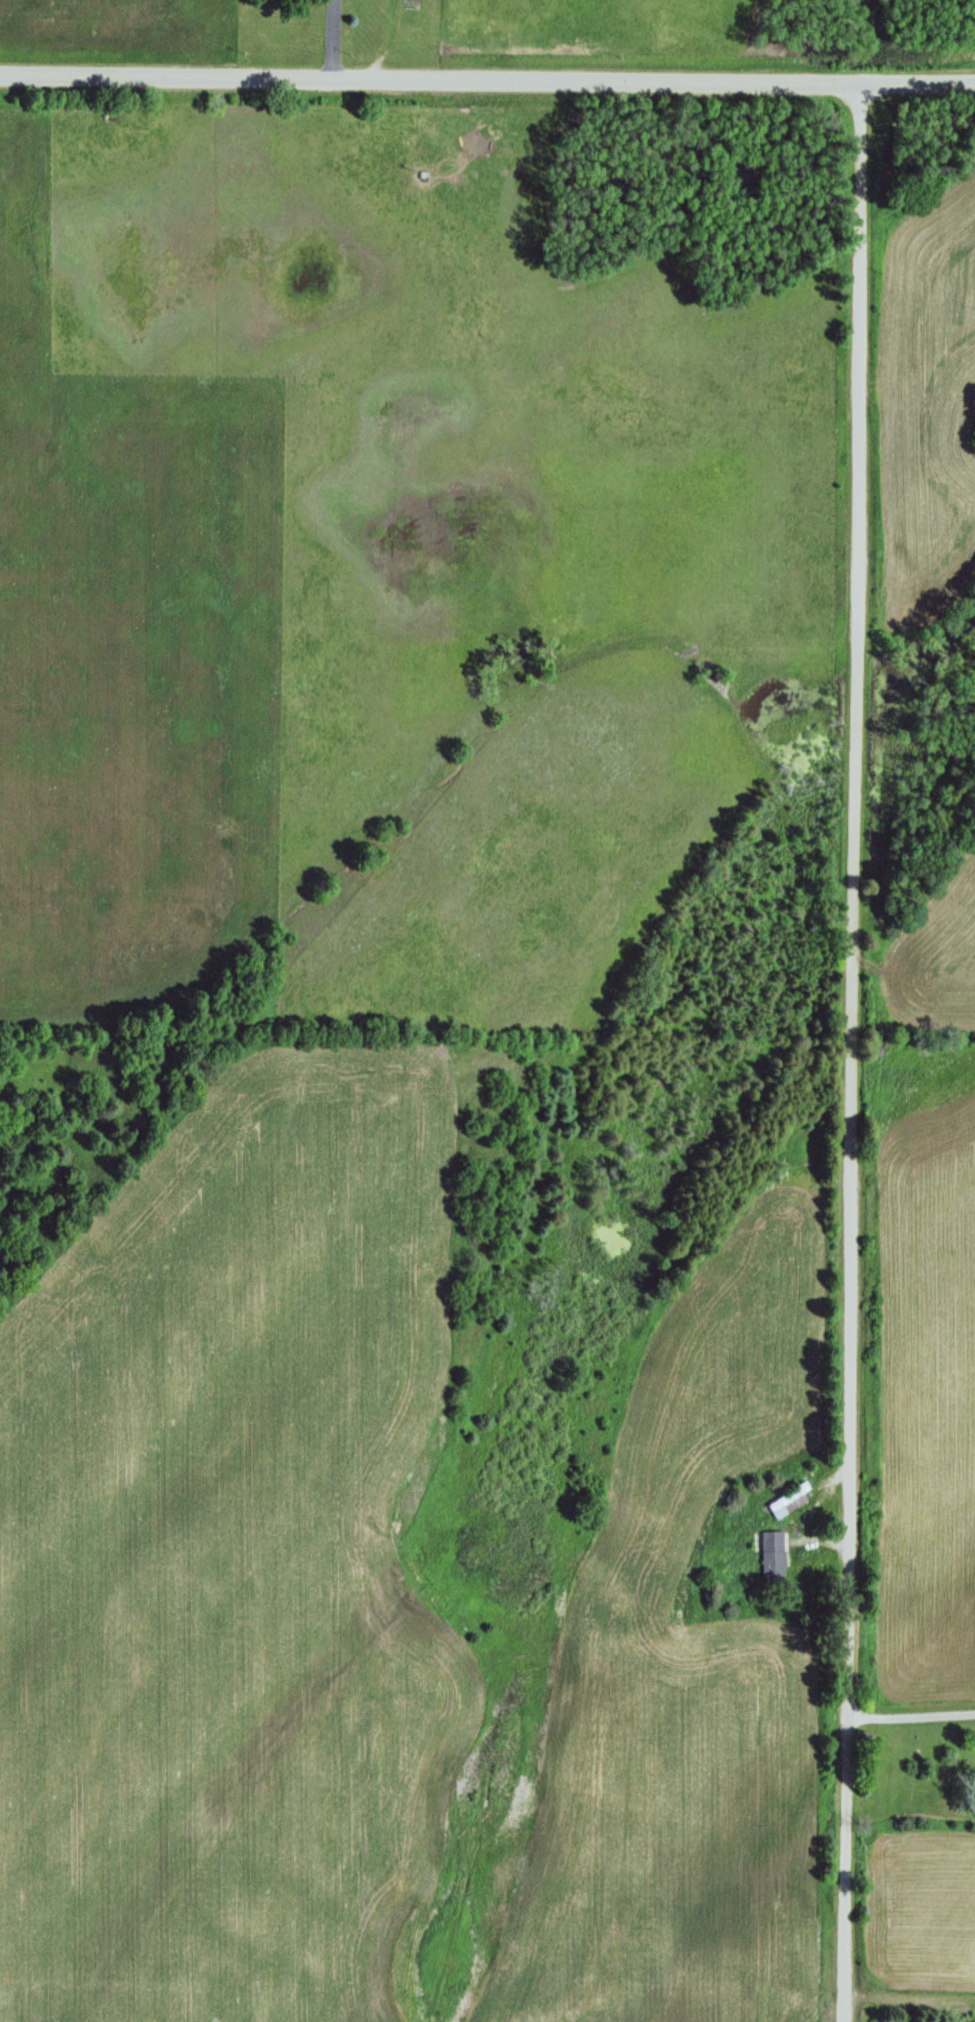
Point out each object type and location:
road: (487, 81)
road: (849, 1052)
building: (791, 1499)
building: (773, 1555)

